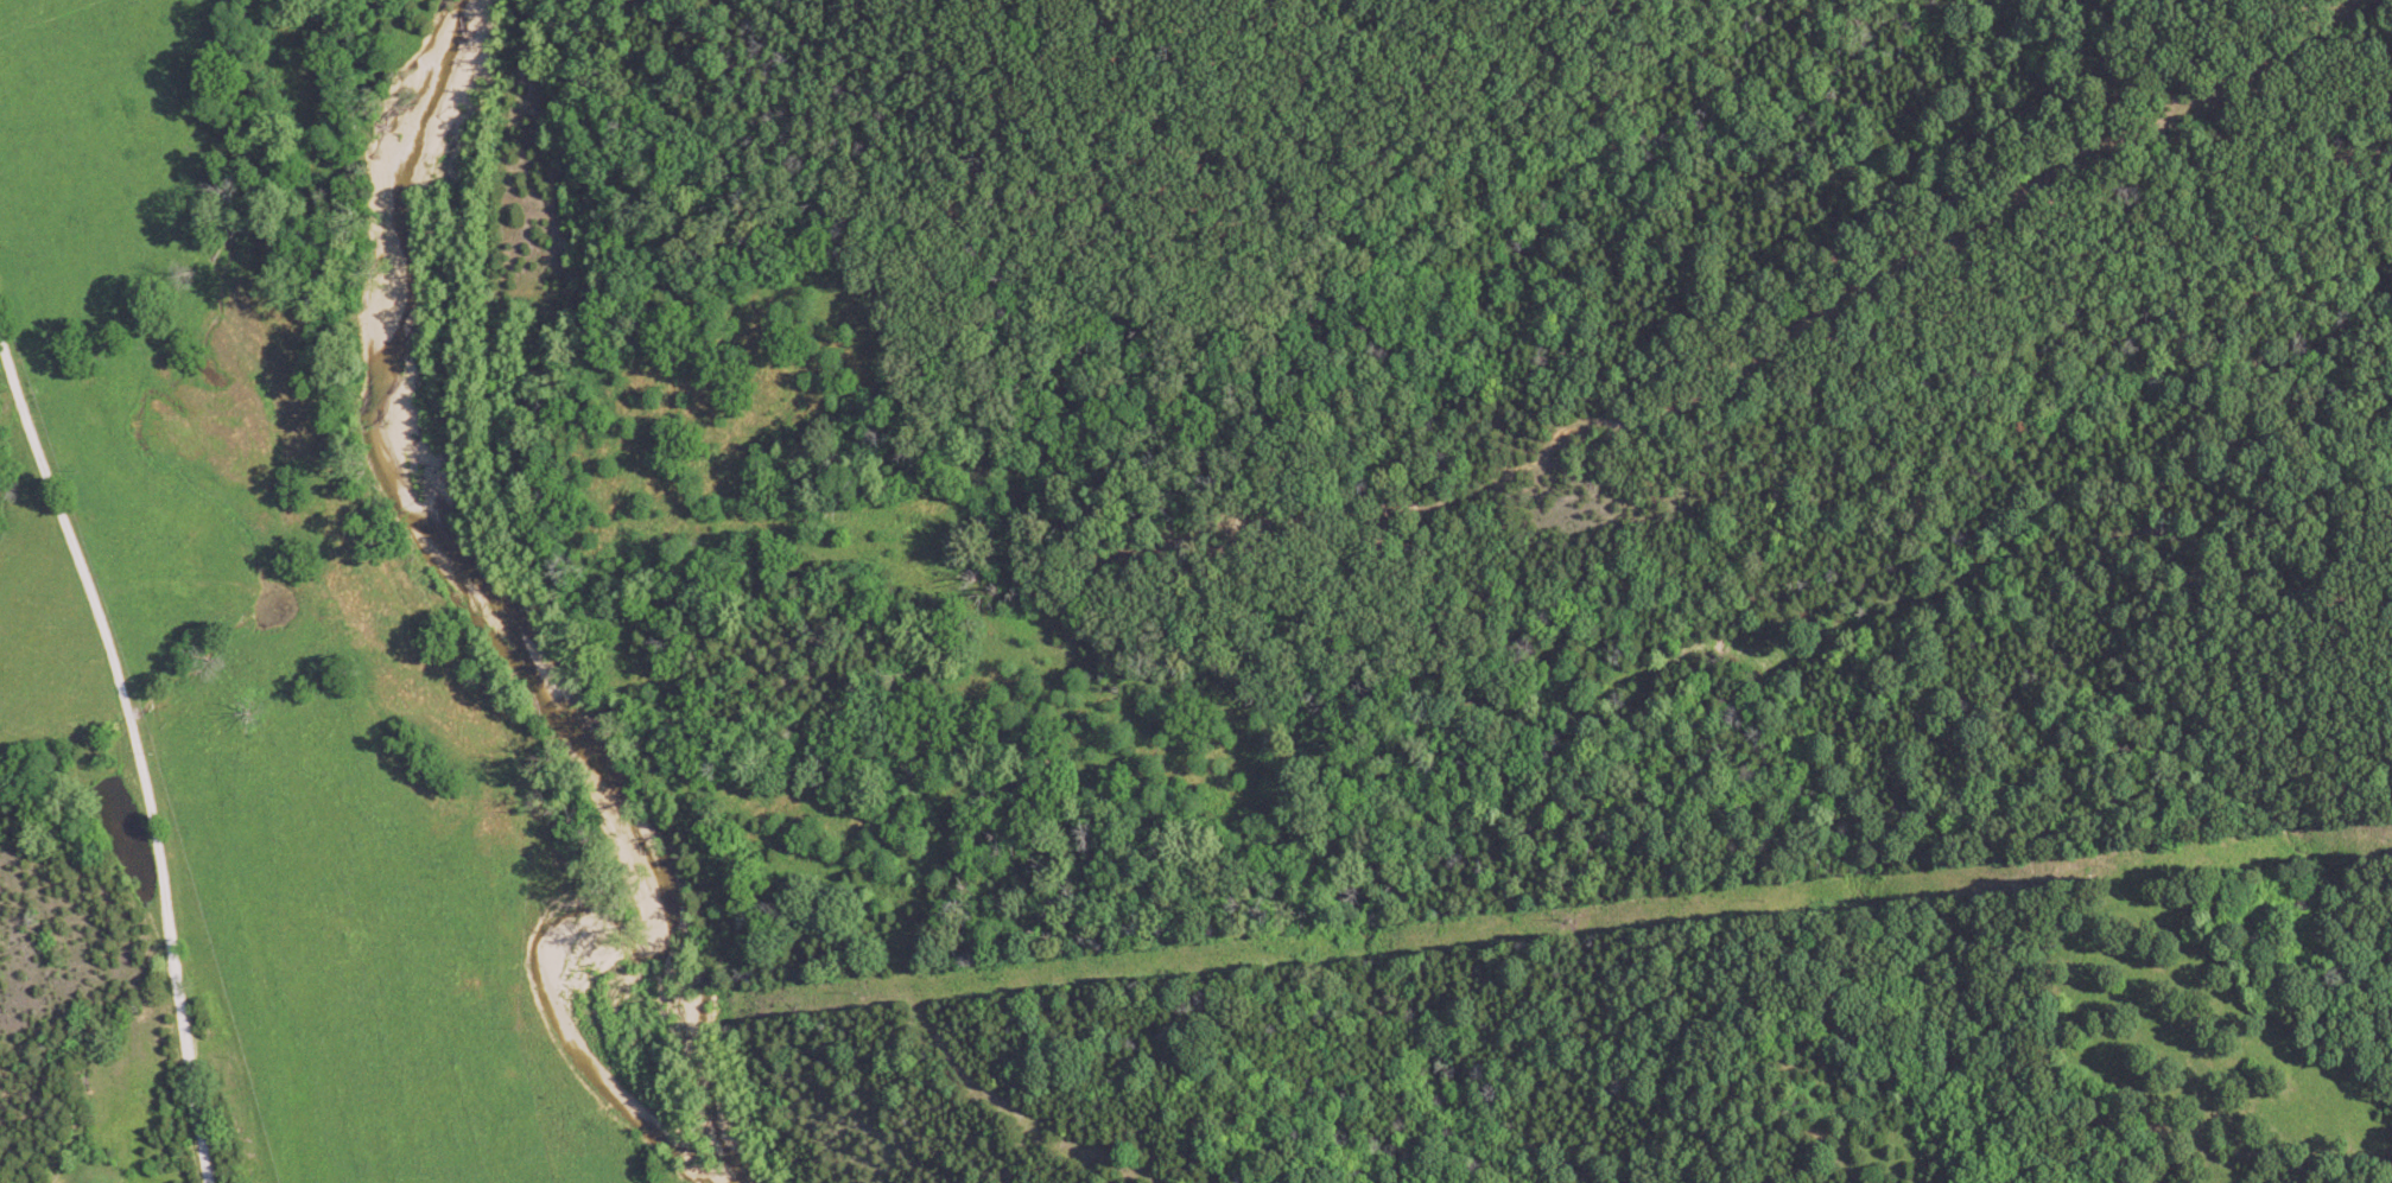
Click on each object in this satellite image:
river: (518, 606)
road: (144, 743)

